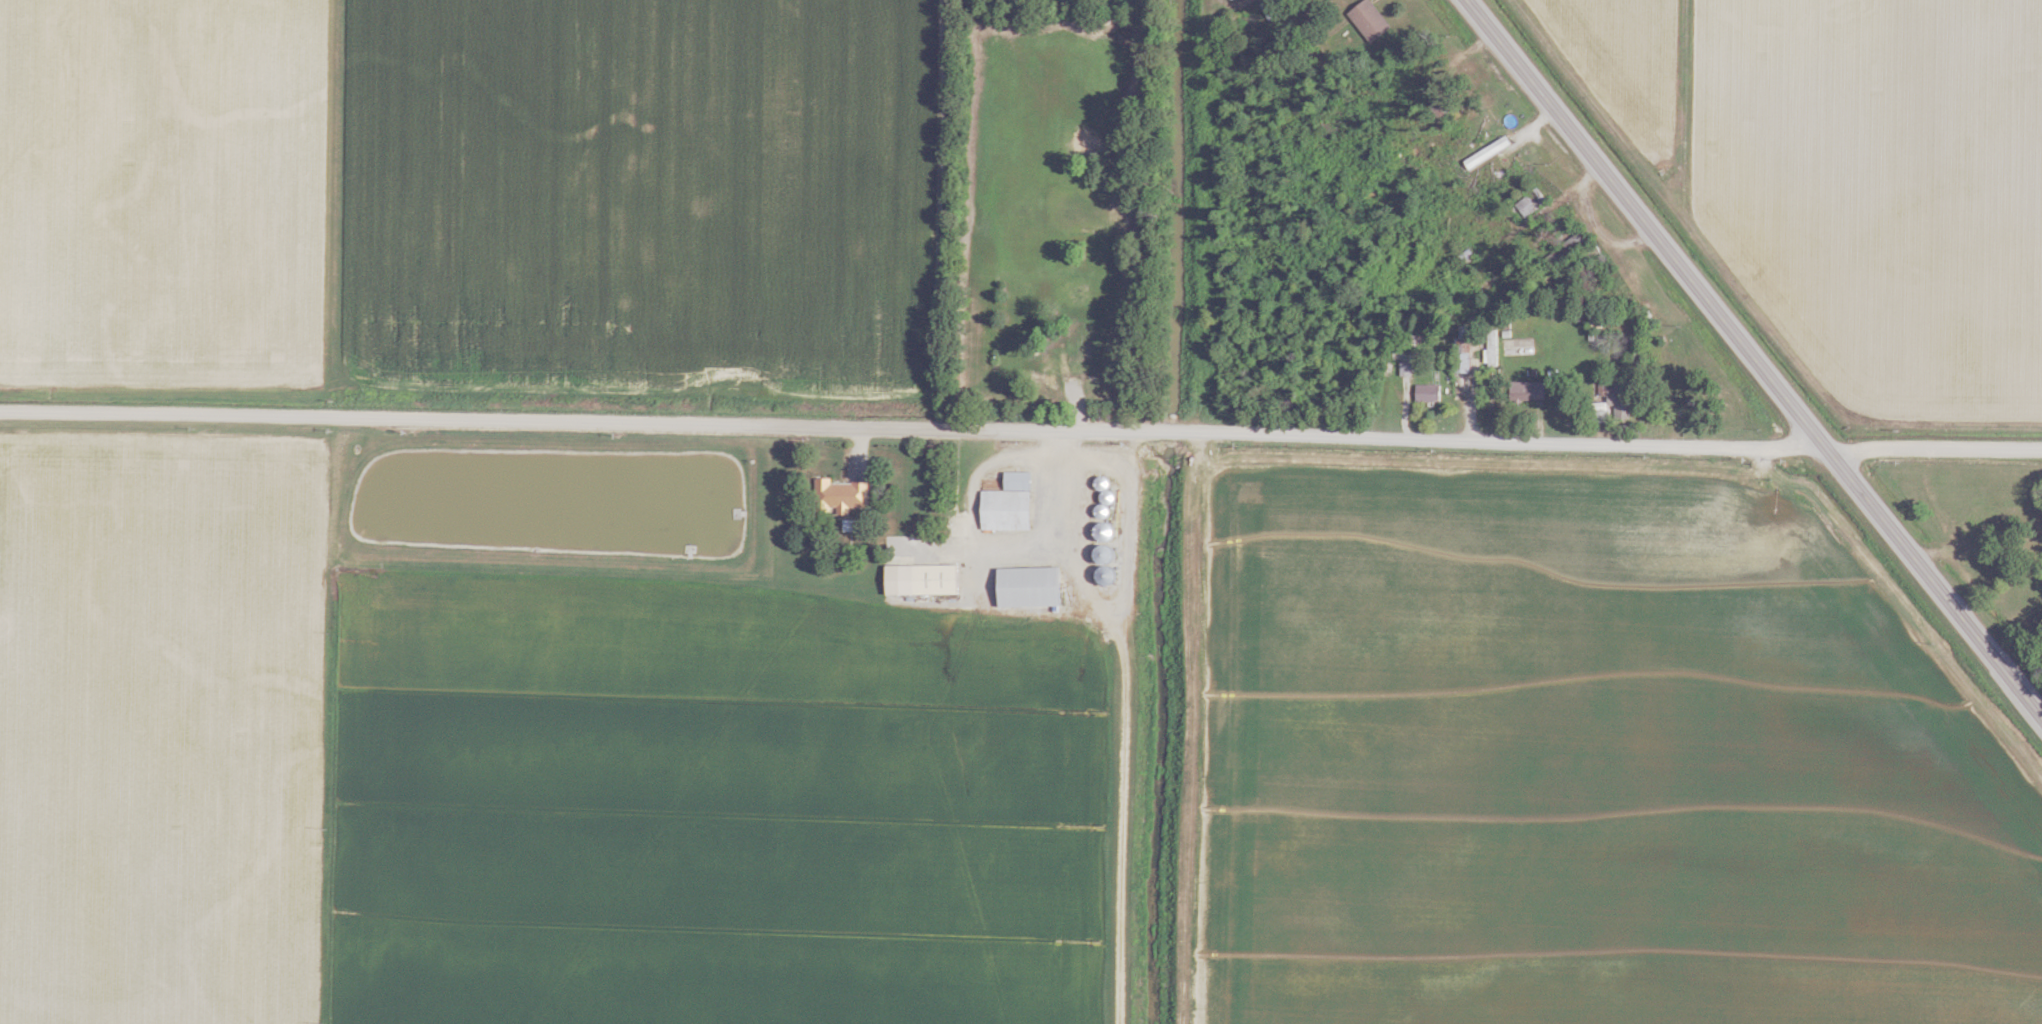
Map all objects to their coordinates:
building: (1267, 9)
building: (1368, 20)
building: (1525, 204)
building: (1564, 250)
building: (1076, 299)
building: (1593, 317)
building: (1490, 347)
building: (1460, 350)
road: (1756, 357)
building: (1053, 368)
building: (1518, 390)
building: (1425, 393)
building: (1612, 403)
road: (913, 428)
road: (1934, 446)
building: (1102, 483)
building: (838, 495)
building: (1007, 503)
building: (1104, 531)
building: (1106, 572)
building: (920, 579)
building: (1028, 586)
road: (1126, 717)

